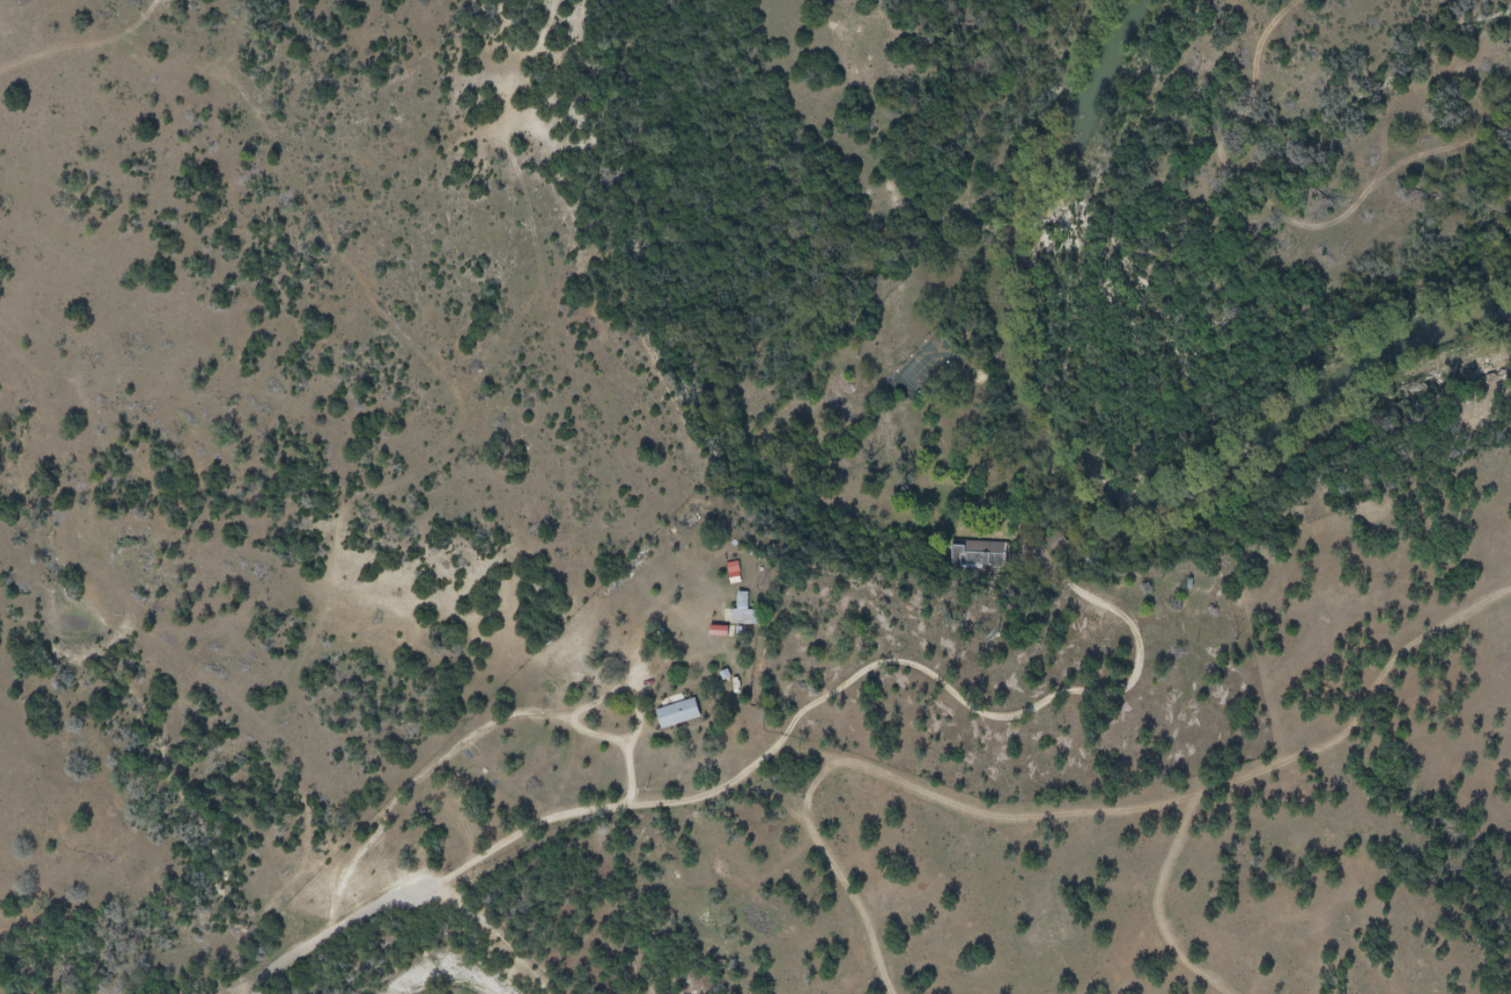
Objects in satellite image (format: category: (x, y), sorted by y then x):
building: (1058, 542)
building: (977, 563)
building: (735, 573)
building: (745, 613)
road: (637, 687)
road: (854, 687)
building: (686, 718)
road: (424, 778)
road: (349, 923)

